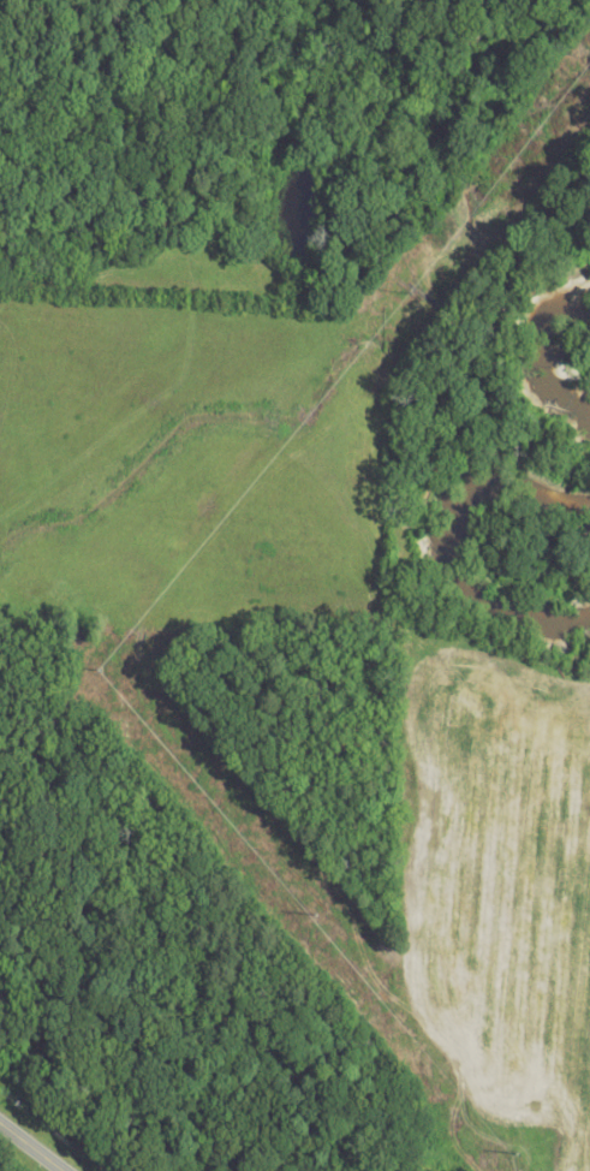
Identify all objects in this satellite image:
river: (540, 350)
river: (461, 555)
road: (31, 1147)

